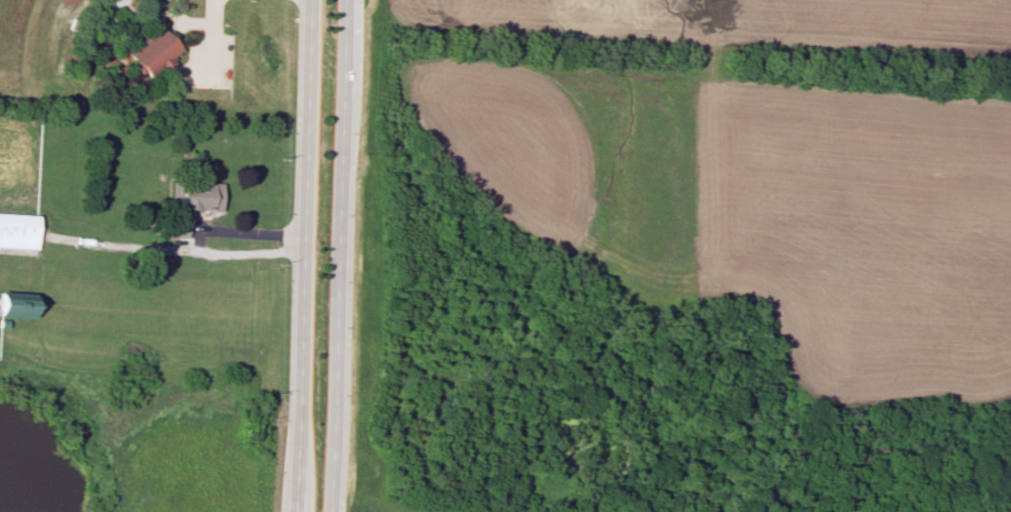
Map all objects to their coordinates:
crop: (732, 25)
road: (212, 39)
building: (152, 49)
building: (195, 195)
building: (18, 230)
crop: (863, 233)
road: (196, 241)
road: (122, 246)
road: (299, 255)
road: (335, 256)
building: (16, 303)

